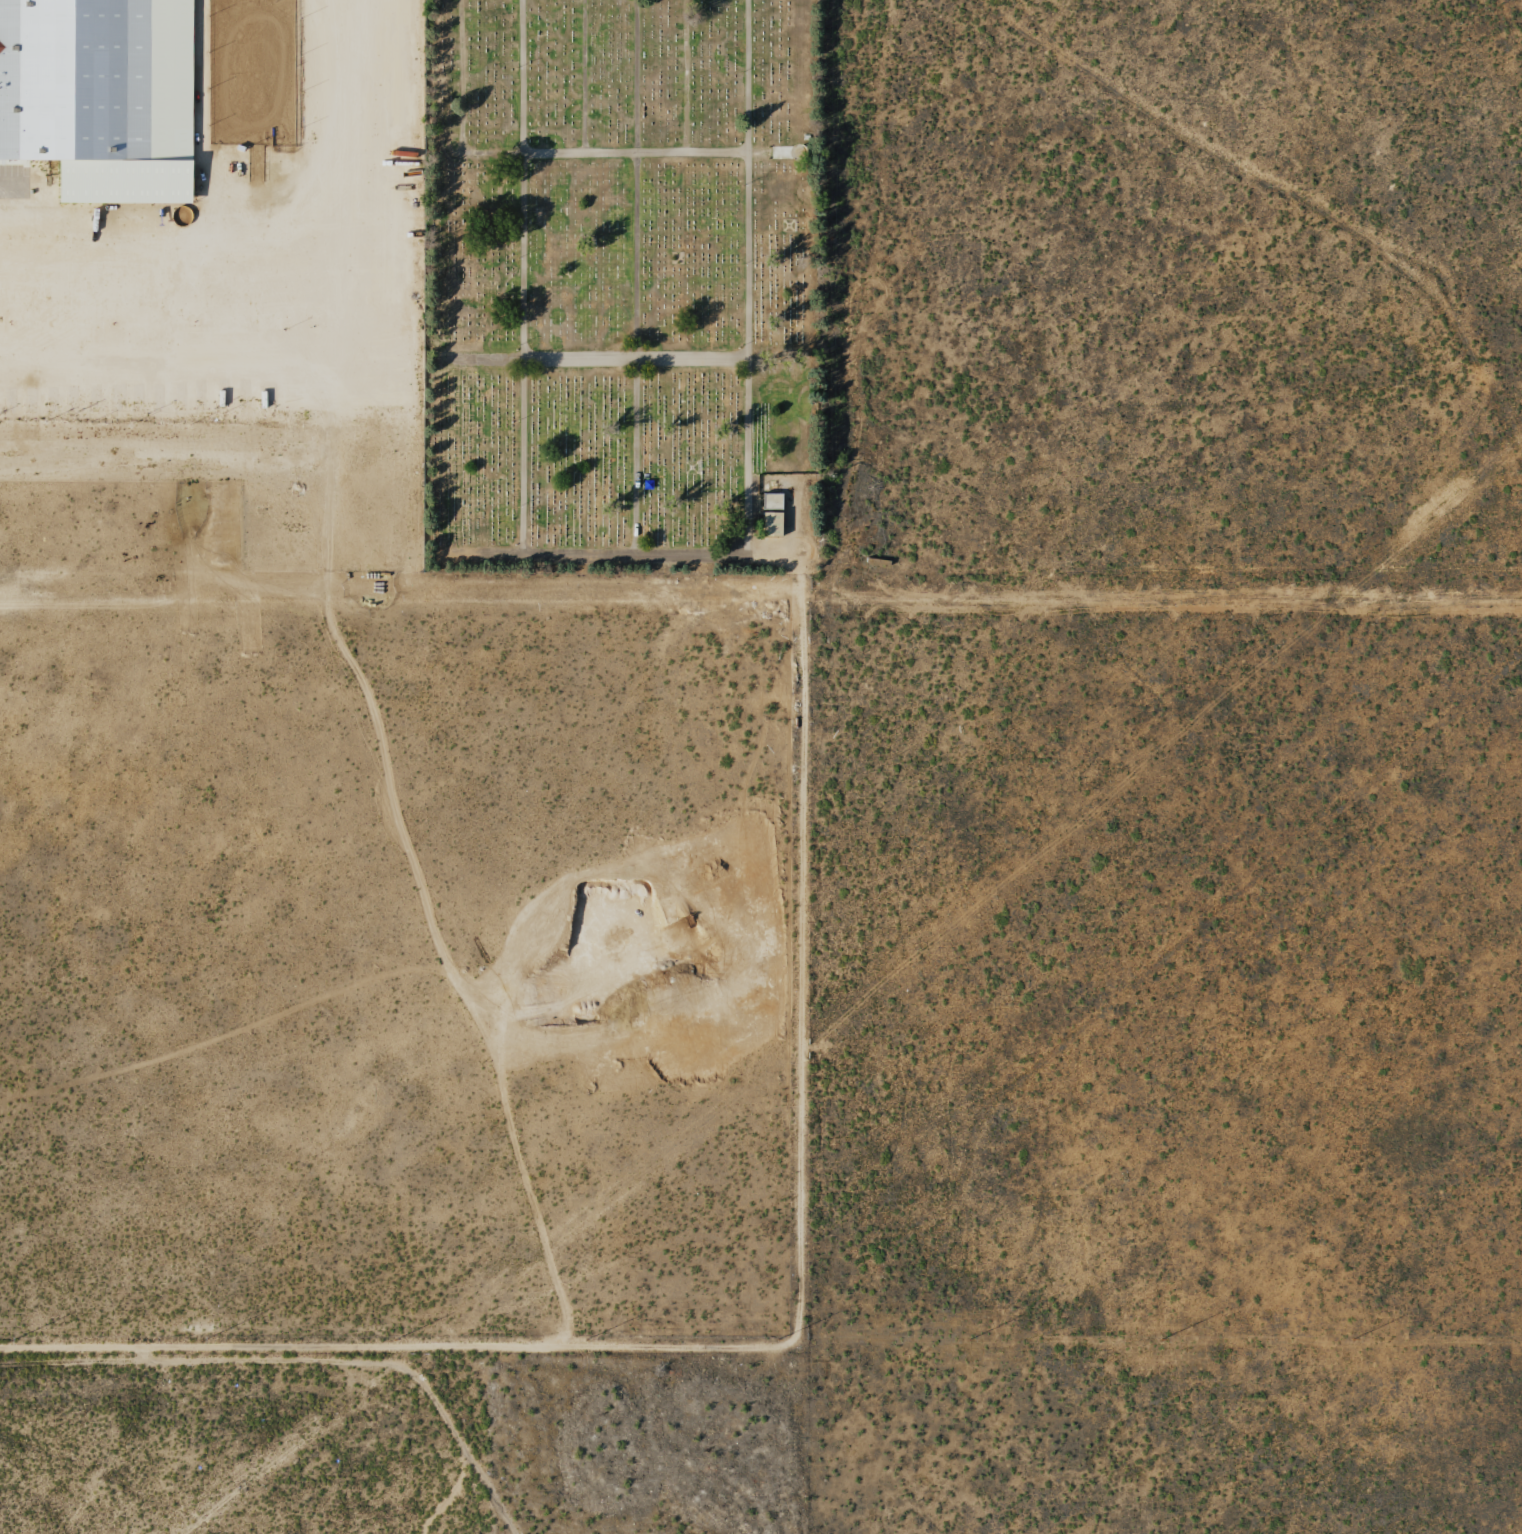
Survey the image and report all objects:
building: (99, 96)
road: (657, 155)
road: (524, 277)
road: (747, 277)
road: (638, 278)
park: (622, 285)
road: (622, 359)
building: (770, 502)
building: (769, 524)
road: (612, 555)
road: (393, 1348)

